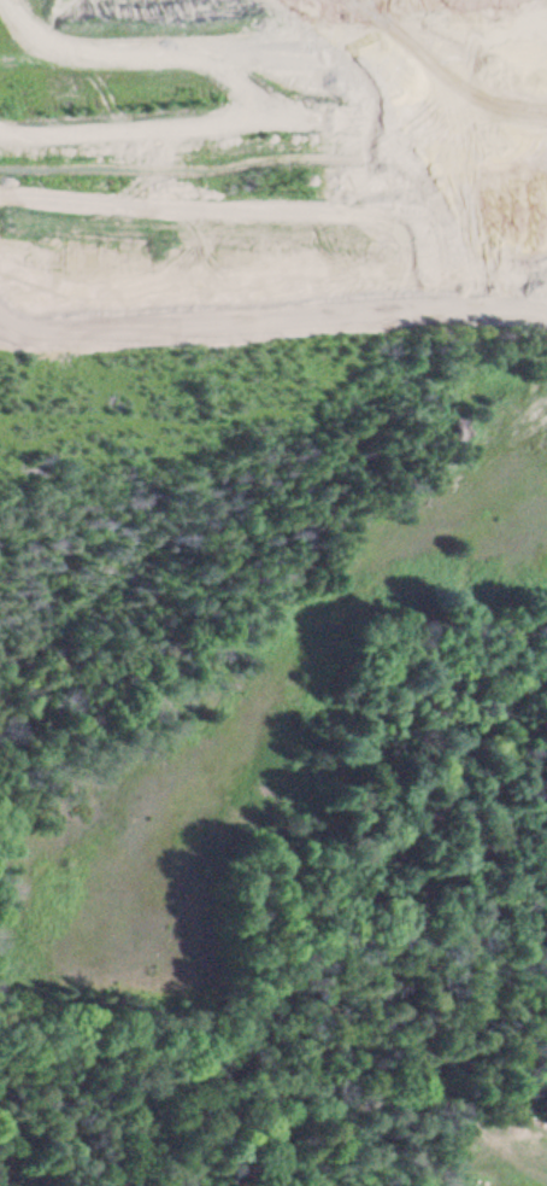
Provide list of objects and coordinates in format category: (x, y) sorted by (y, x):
quarry: (273, 287)

